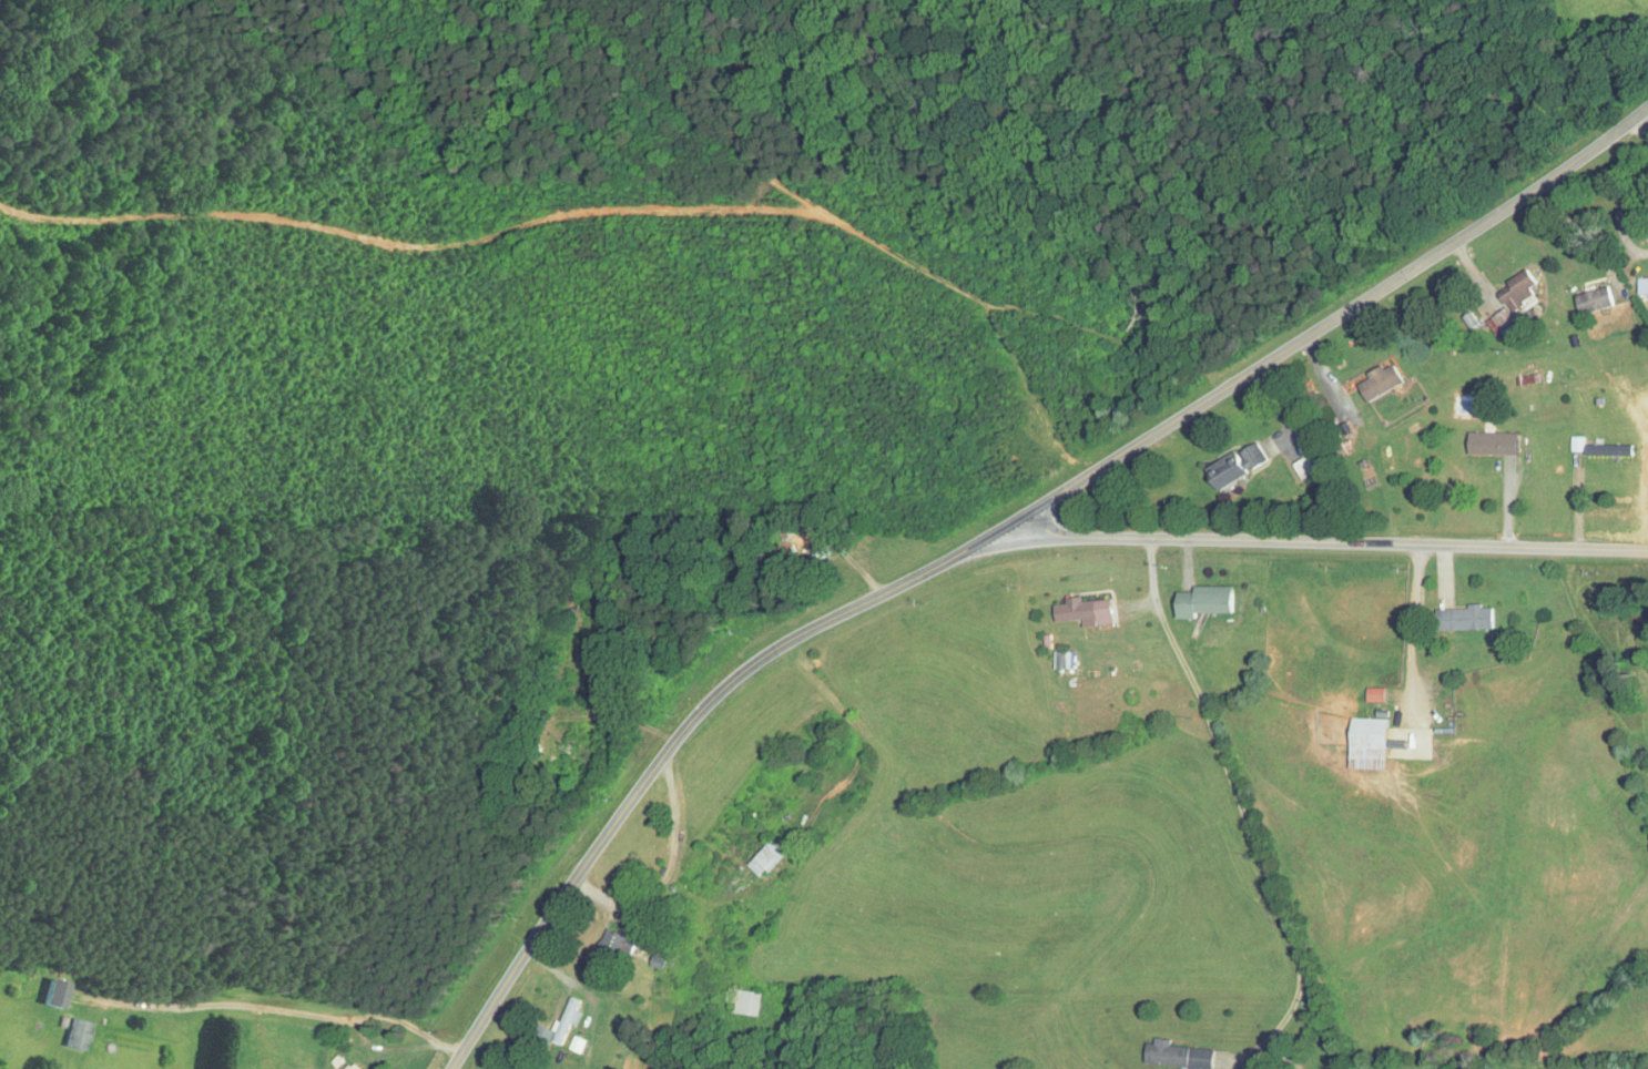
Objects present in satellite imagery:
road: (1641, 128)
road: (1619, 212)
building: (1644, 286)
building: (1596, 301)
building: (1513, 305)
building: (1380, 383)
building: (1344, 408)
building: (1492, 445)
building: (1607, 451)
building: (1235, 466)
building: (1304, 468)
road: (993, 532)
road: (1320, 540)
building: (1207, 601)
building: (1086, 610)
building: (1465, 619)
road: (1413, 627)
building: (1067, 660)
building: (1369, 744)
road: (1237, 797)
building: (769, 858)
building: (618, 943)
building: (53, 996)
building: (750, 1002)
road: (272, 1006)
building: (561, 1025)
building: (80, 1034)
building: (1182, 1056)
building: (347, 1067)

